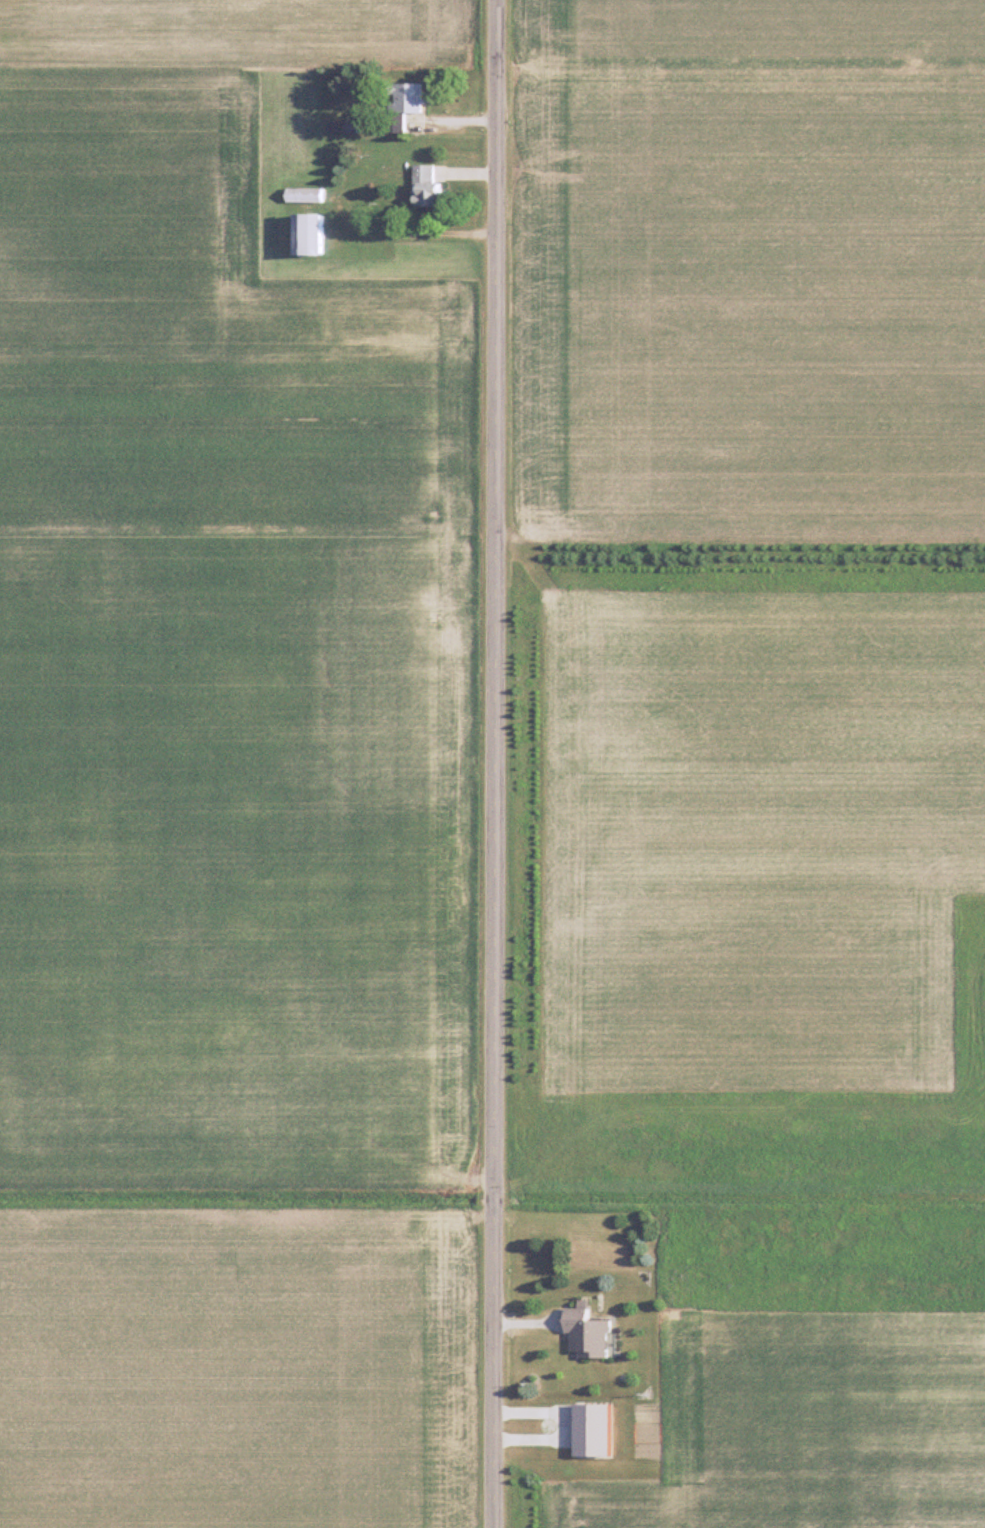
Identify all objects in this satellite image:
building: (416, 99)
building: (432, 187)
building: (309, 194)
building: (315, 234)
road: (494, 763)
building: (593, 1333)

